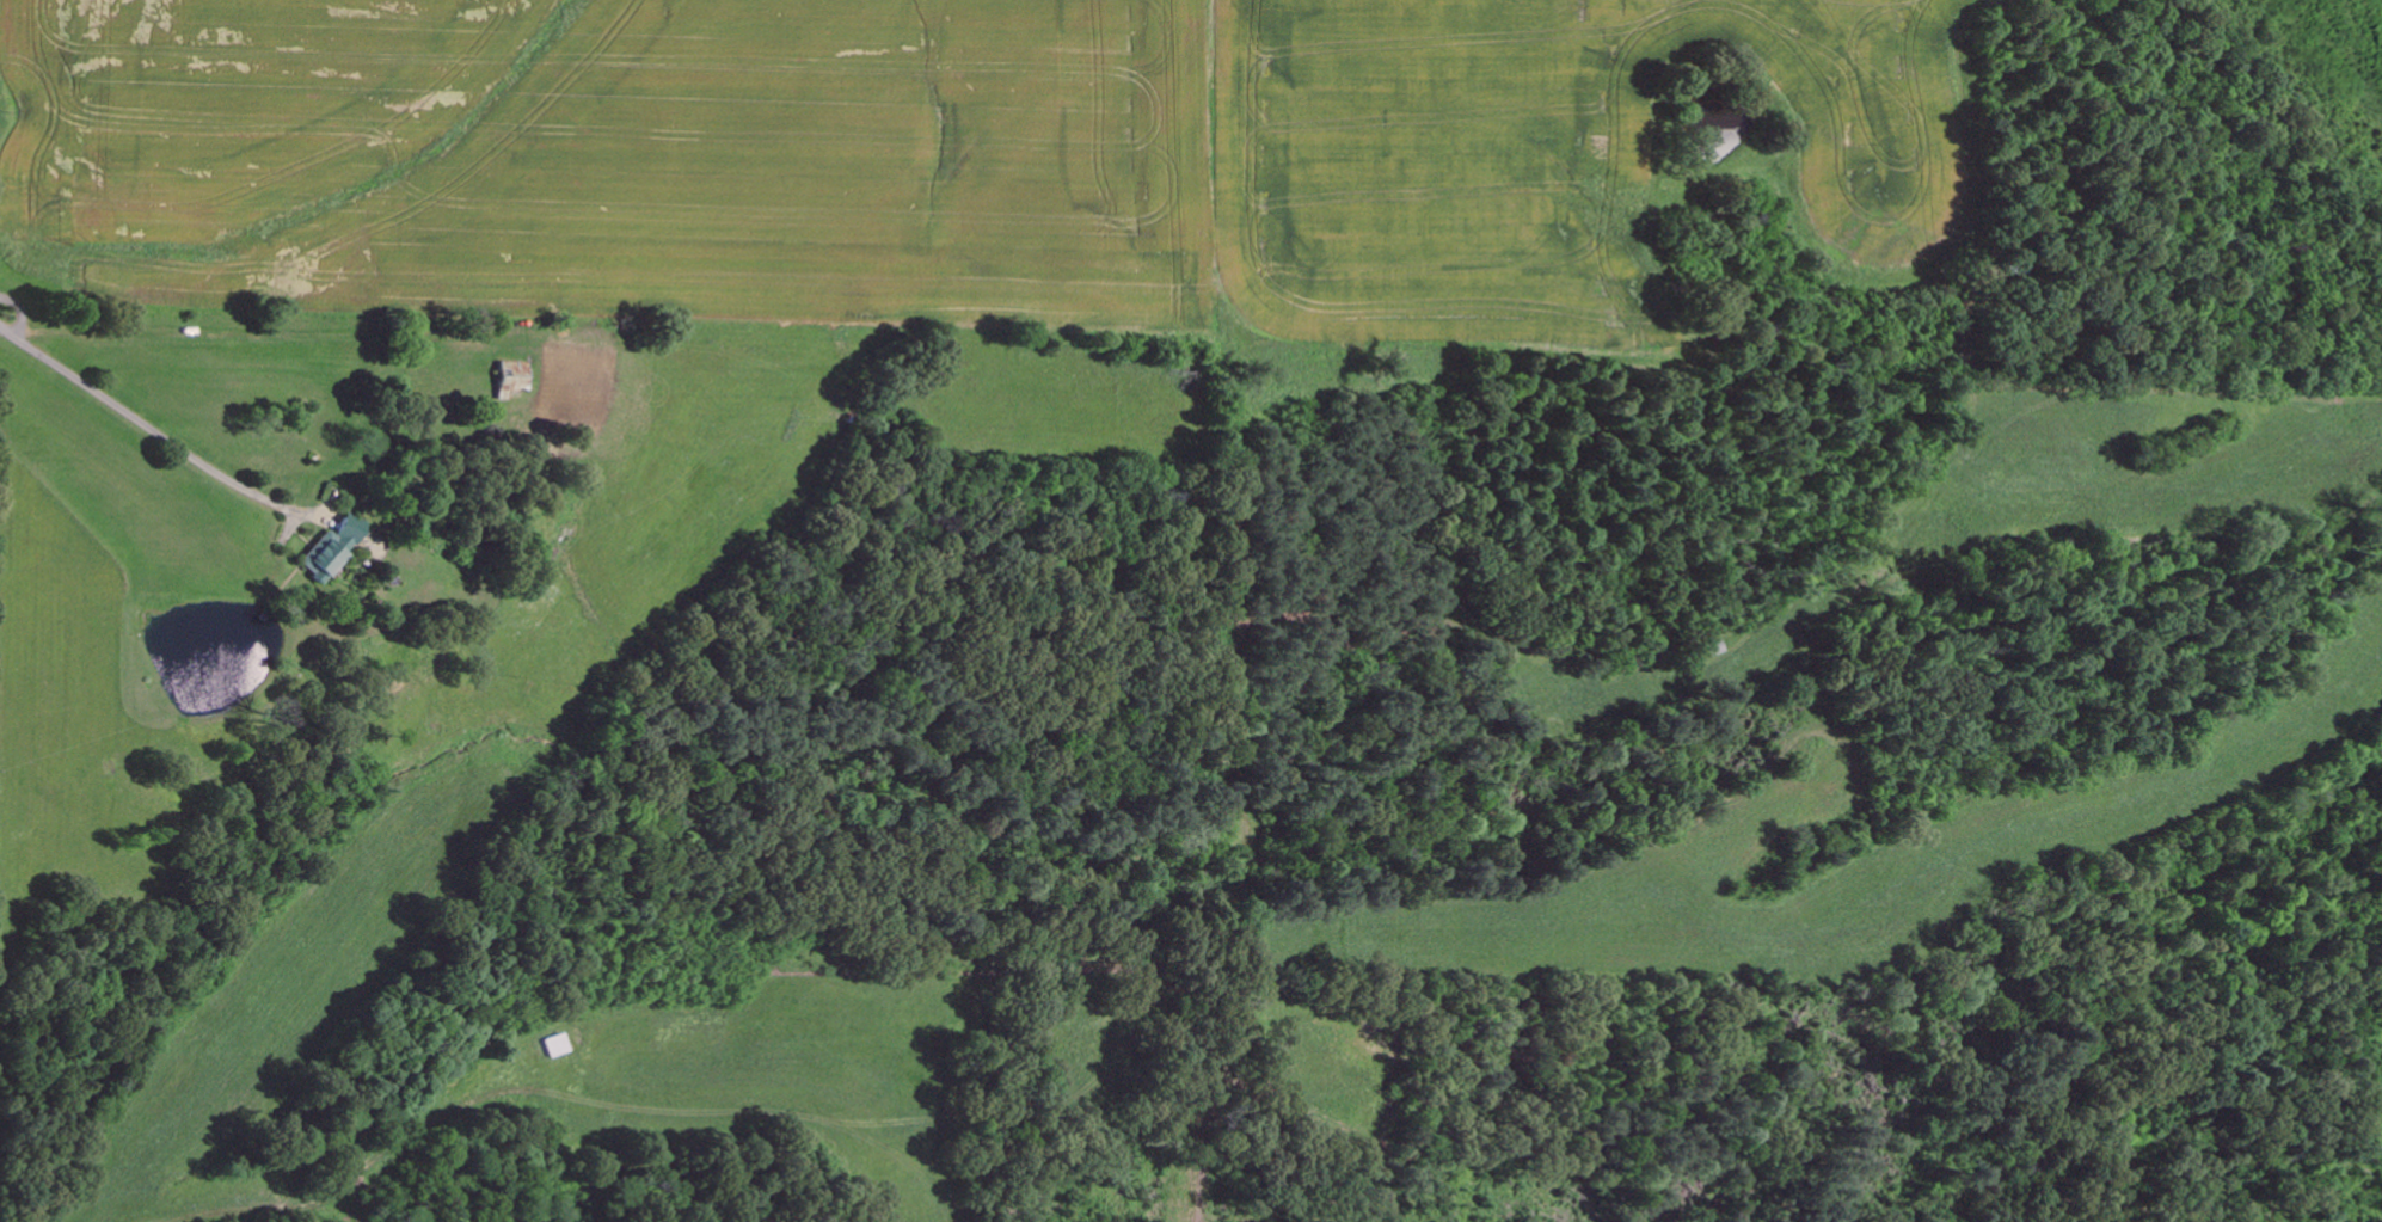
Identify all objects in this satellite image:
road: (26, 319)
building: (512, 369)
building: (332, 547)

